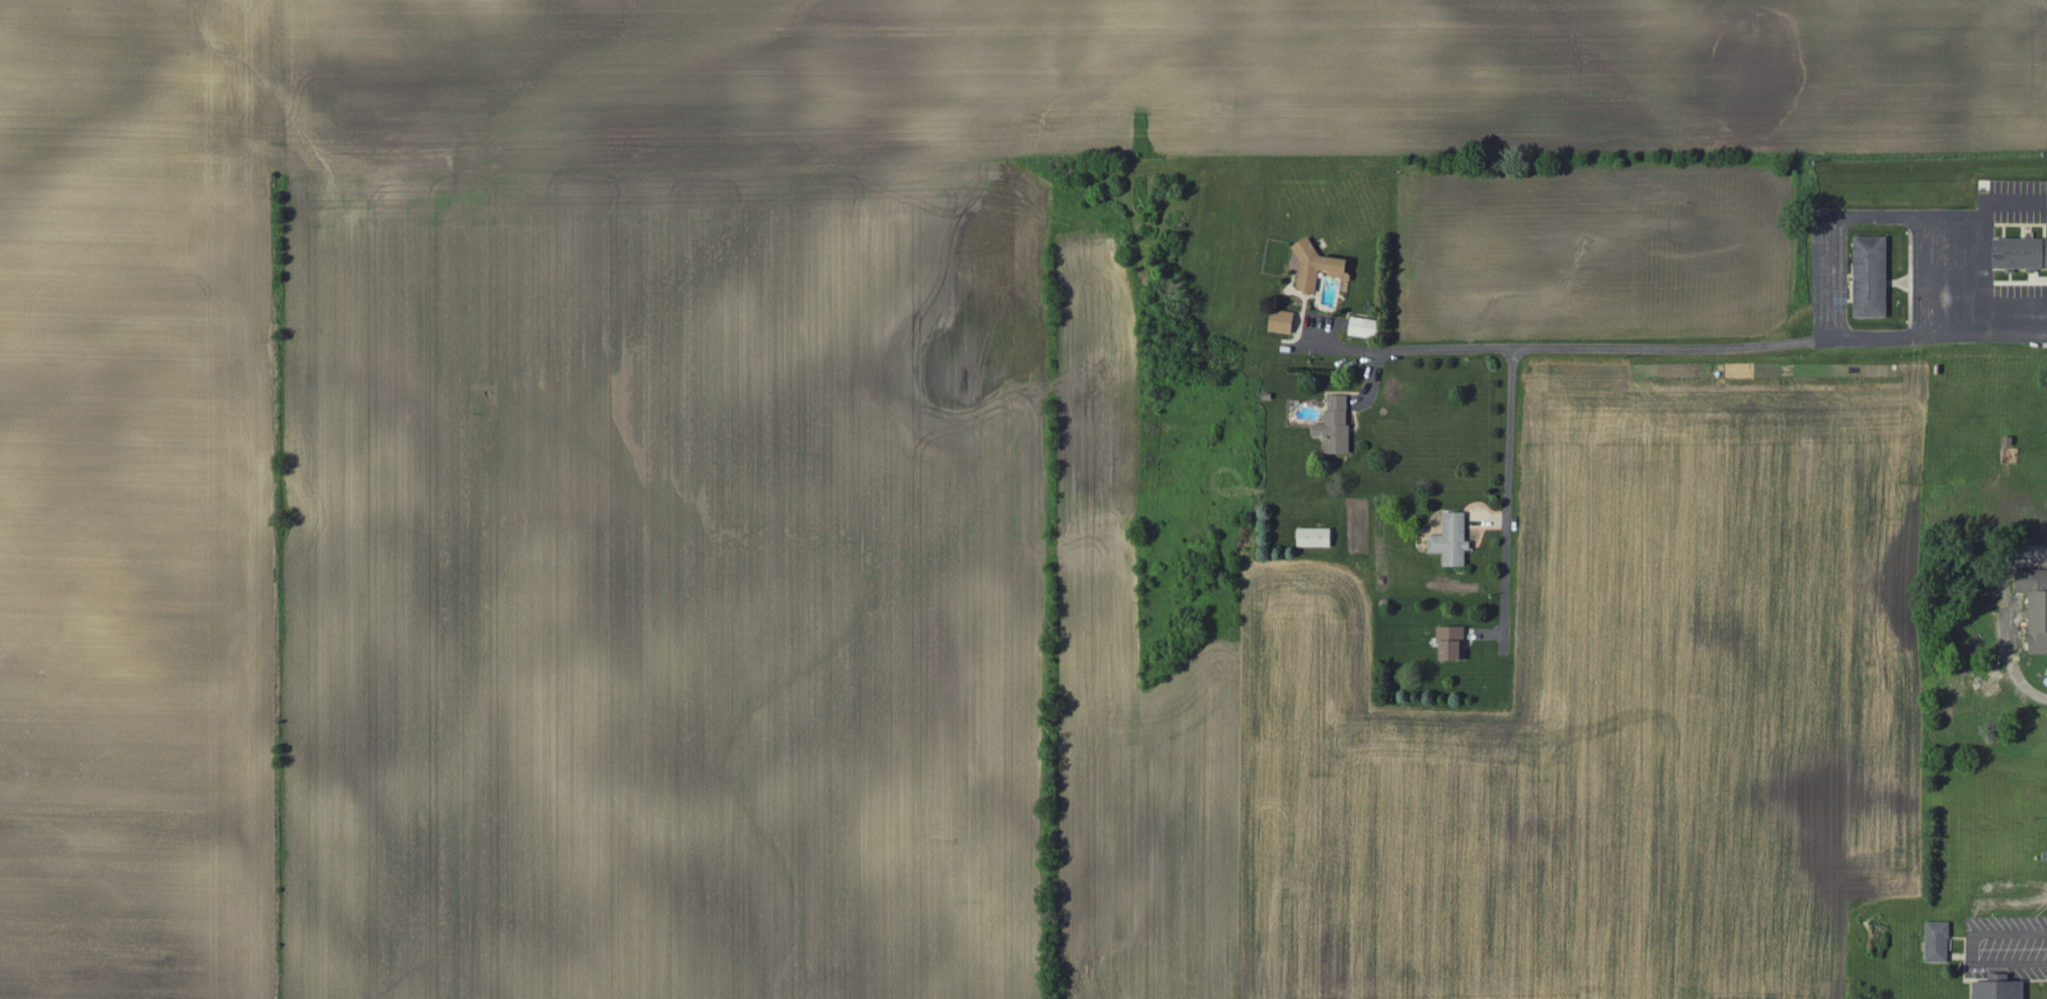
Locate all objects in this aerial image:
building: (2021, 254)
building: (1337, 267)
building: (1872, 278)
building: (1284, 322)
building: (1365, 328)
road: (1705, 347)
building: (1336, 426)
road: (1511, 436)
building: (1316, 538)
building: (1453, 541)
building: (2036, 607)
building: (1453, 644)
building: (1938, 943)
building: (2001, 989)

